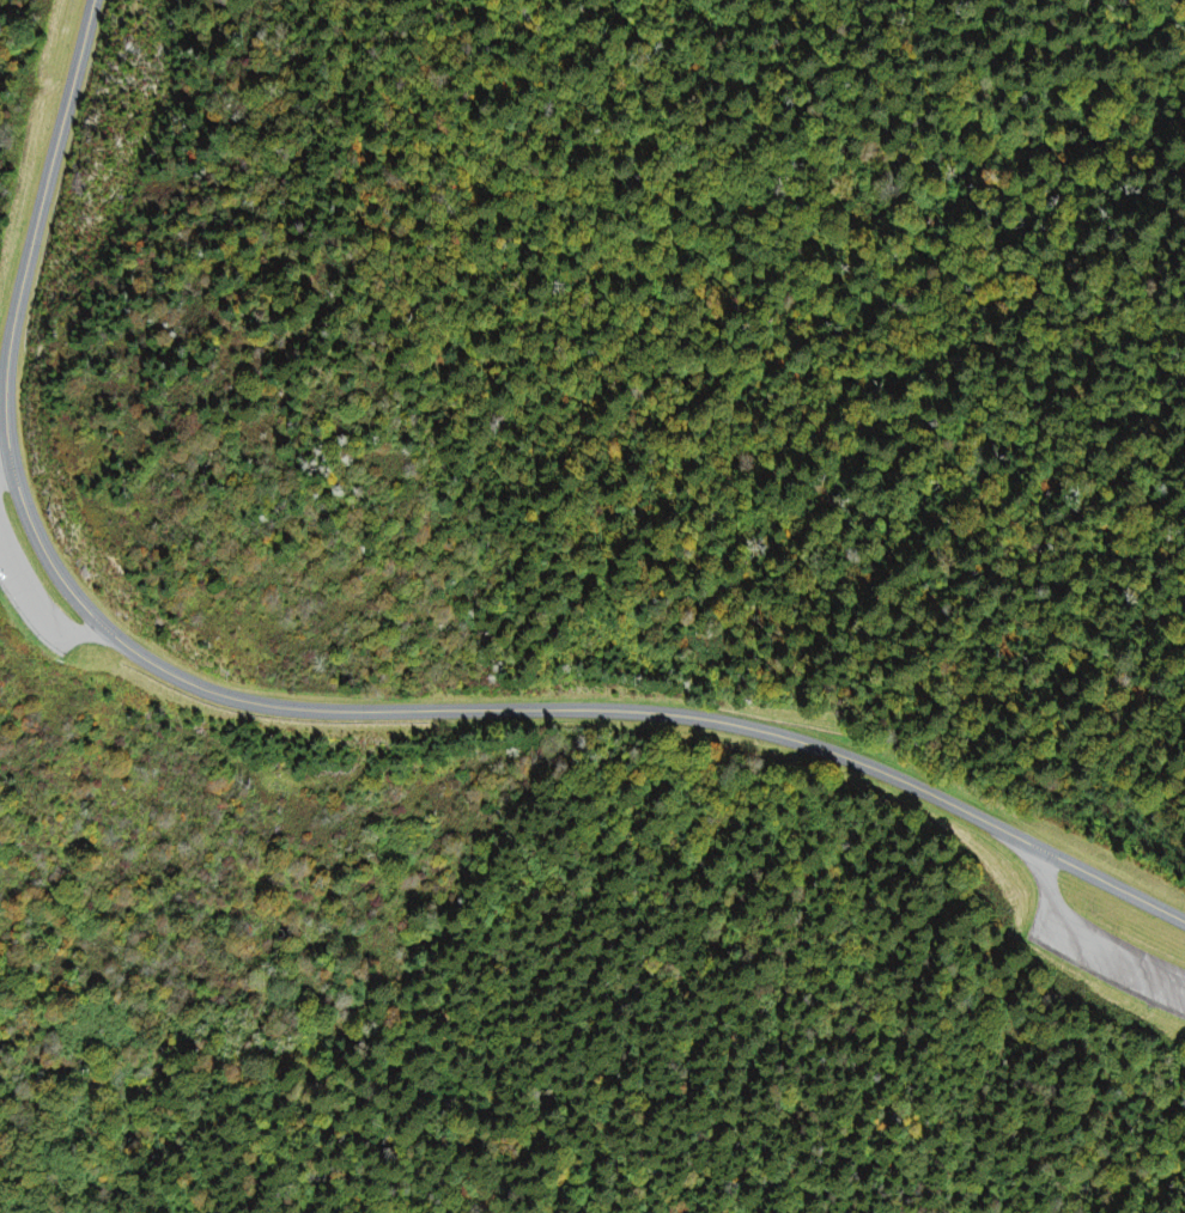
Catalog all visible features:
road: (5, 470)
road: (31, 523)
road: (39, 611)
road: (852, 764)
road: (1081, 955)

